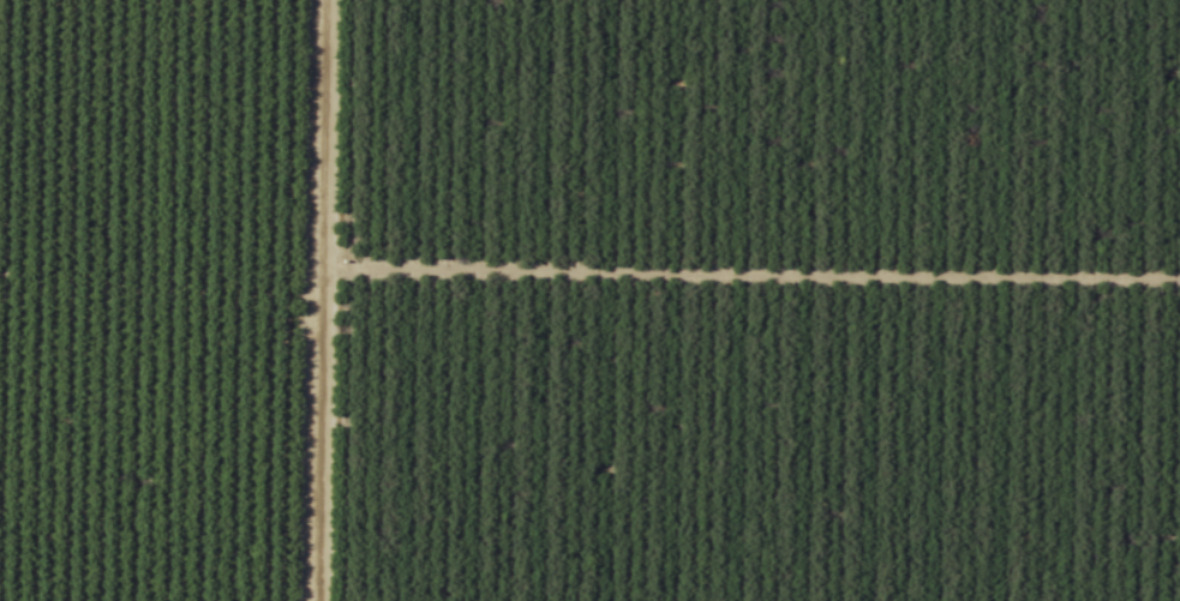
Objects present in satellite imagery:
road: (335, 300)

